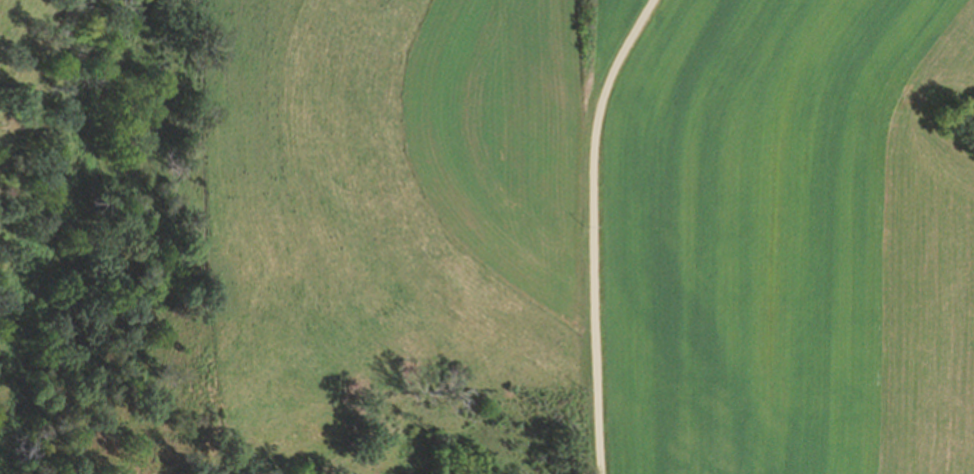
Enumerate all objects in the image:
road: (593, 229)

